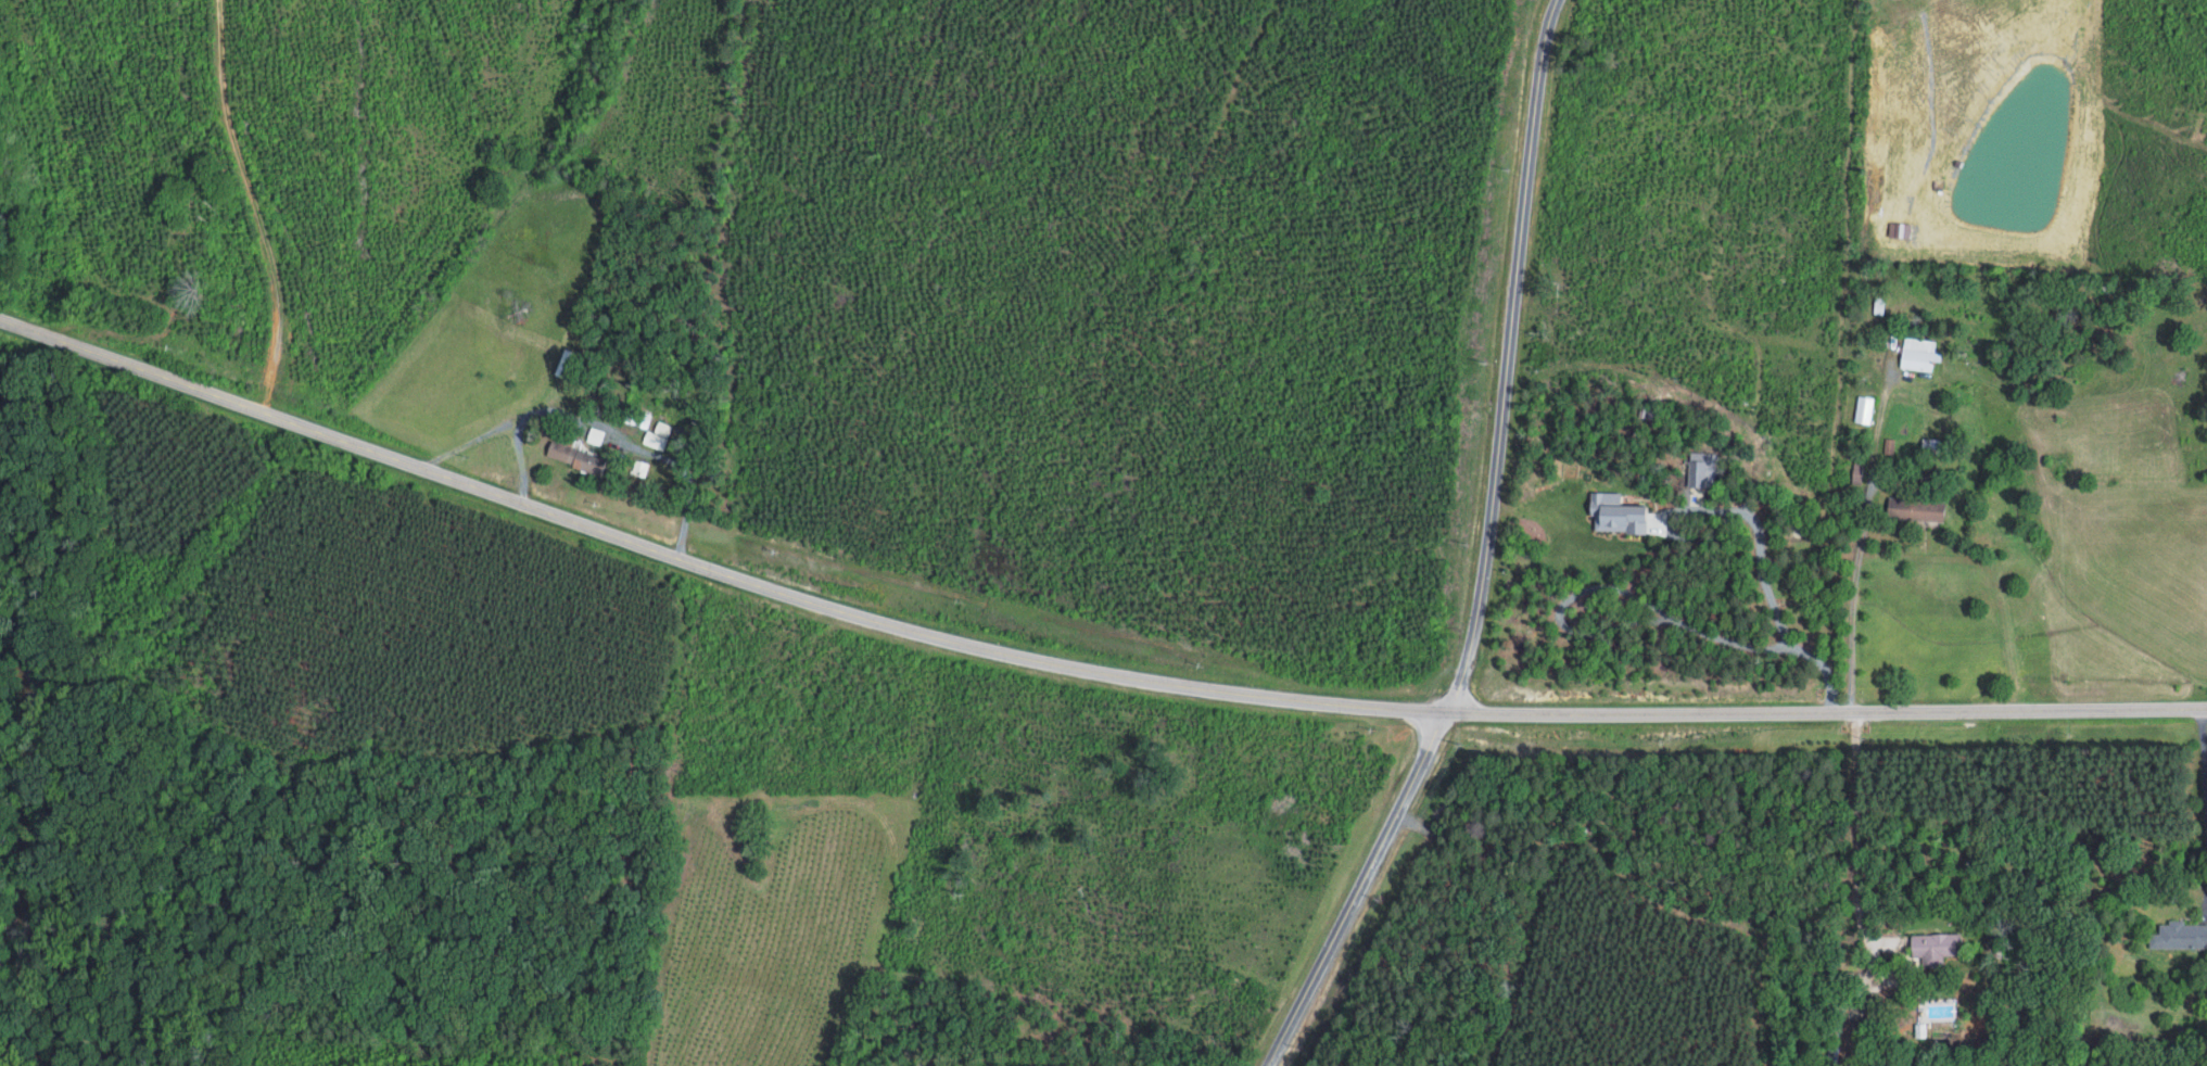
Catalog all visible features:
building: (1901, 228)
building: (1917, 353)
building: (567, 363)
building: (1864, 408)
building: (595, 434)
building: (657, 434)
road: (469, 440)
road: (642, 448)
building: (575, 456)
road: (517, 458)
building: (639, 467)
building: (1701, 468)
building: (1917, 508)
building: (1618, 512)
road: (1484, 554)
road: (1853, 597)
road: (1776, 608)
road: (1077, 665)
road: (2204, 749)
road: (1855, 830)
building: (2180, 935)
building: (1935, 947)

